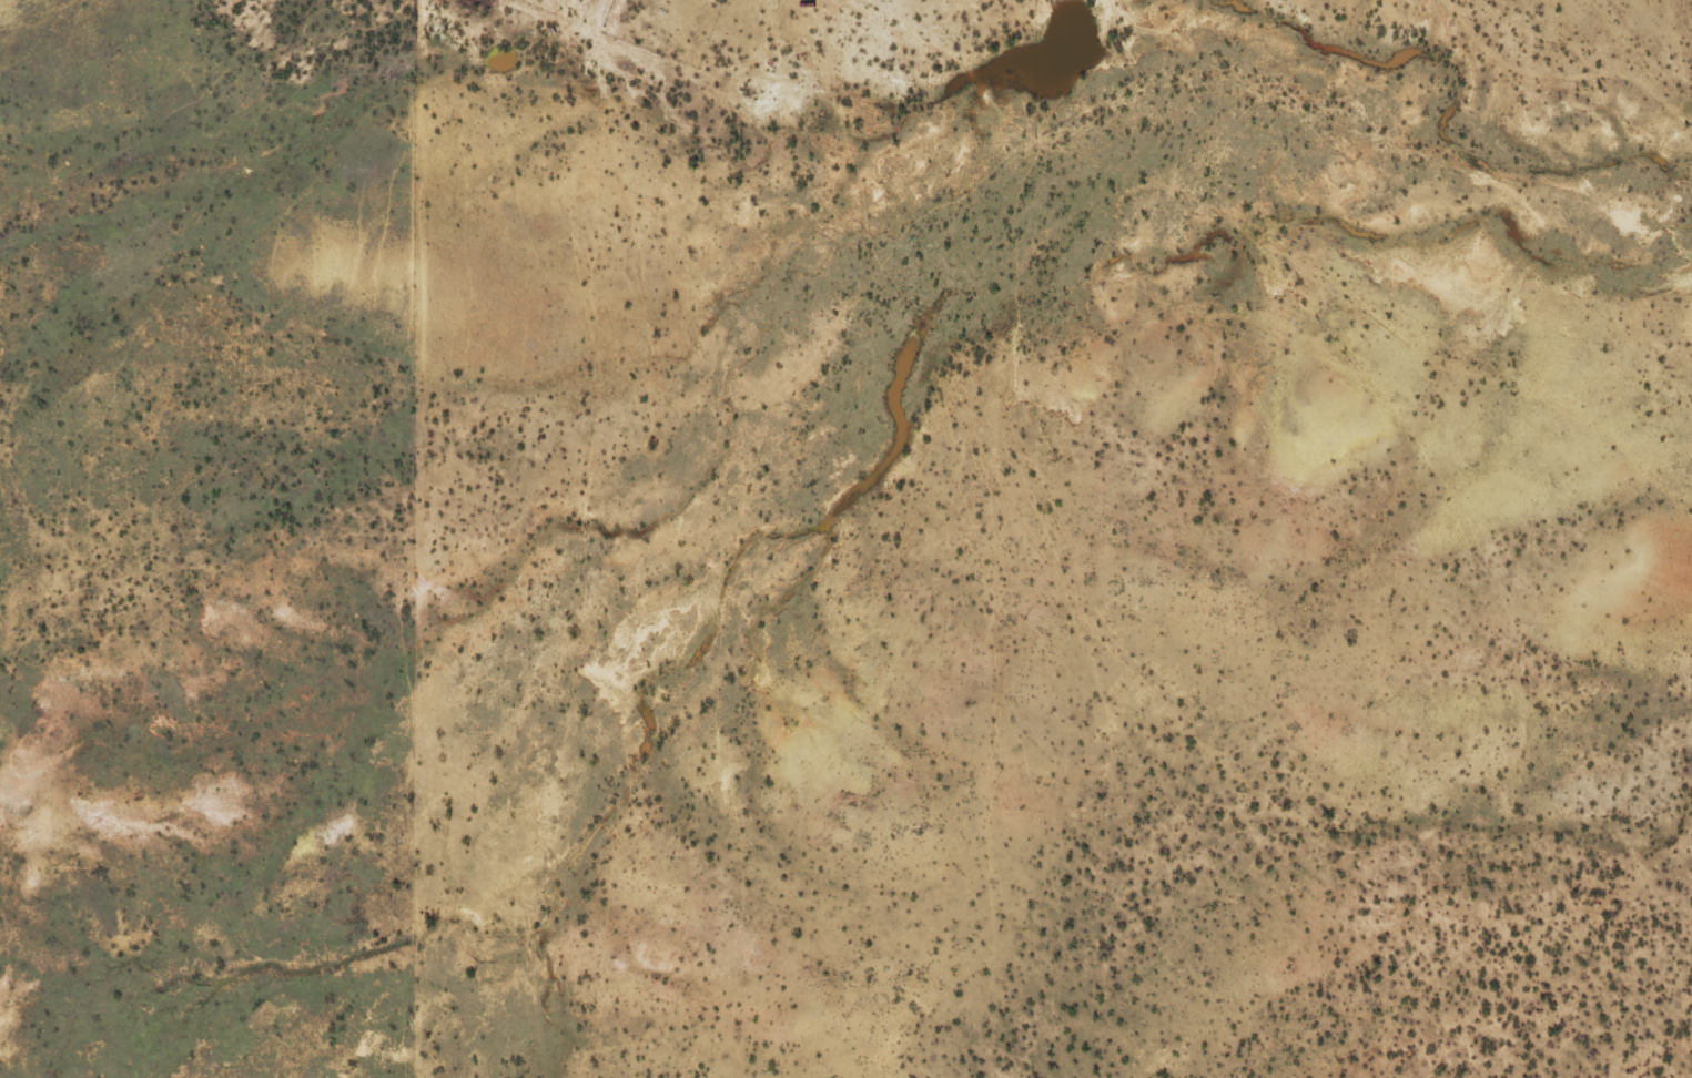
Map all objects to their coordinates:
road: (365, 1007)

